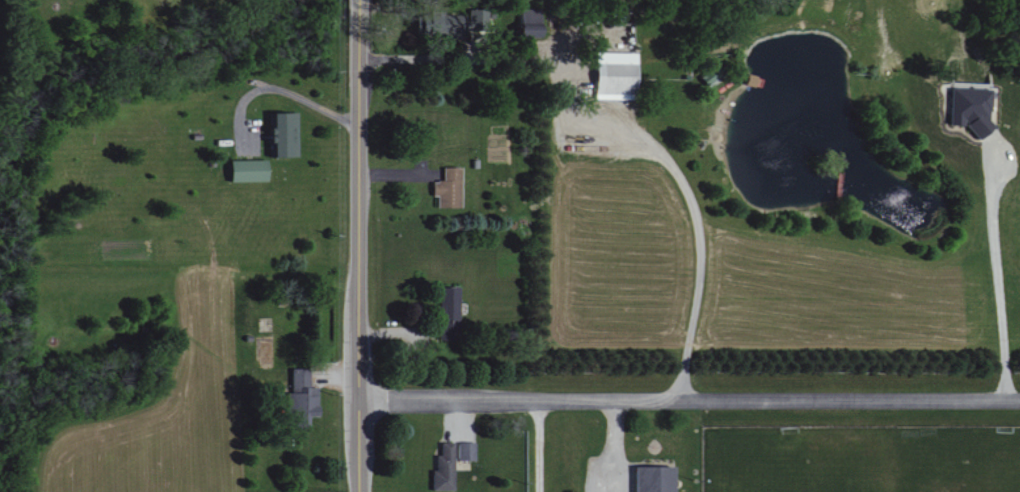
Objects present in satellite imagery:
building: (478, 17)
building: (532, 22)
road: (420, 56)
building: (617, 74)
road: (279, 88)
building: (973, 109)
building: (286, 133)
building: (250, 170)
building: (449, 188)
road: (696, 220)
road: (361, 245)
road: (999, 270)
building: (449, 302)
building: (302, 396)
road: (690, 396)
road: (539, 444)
building: (466, 451)
building: (444, 468)
building: (656, 479)

